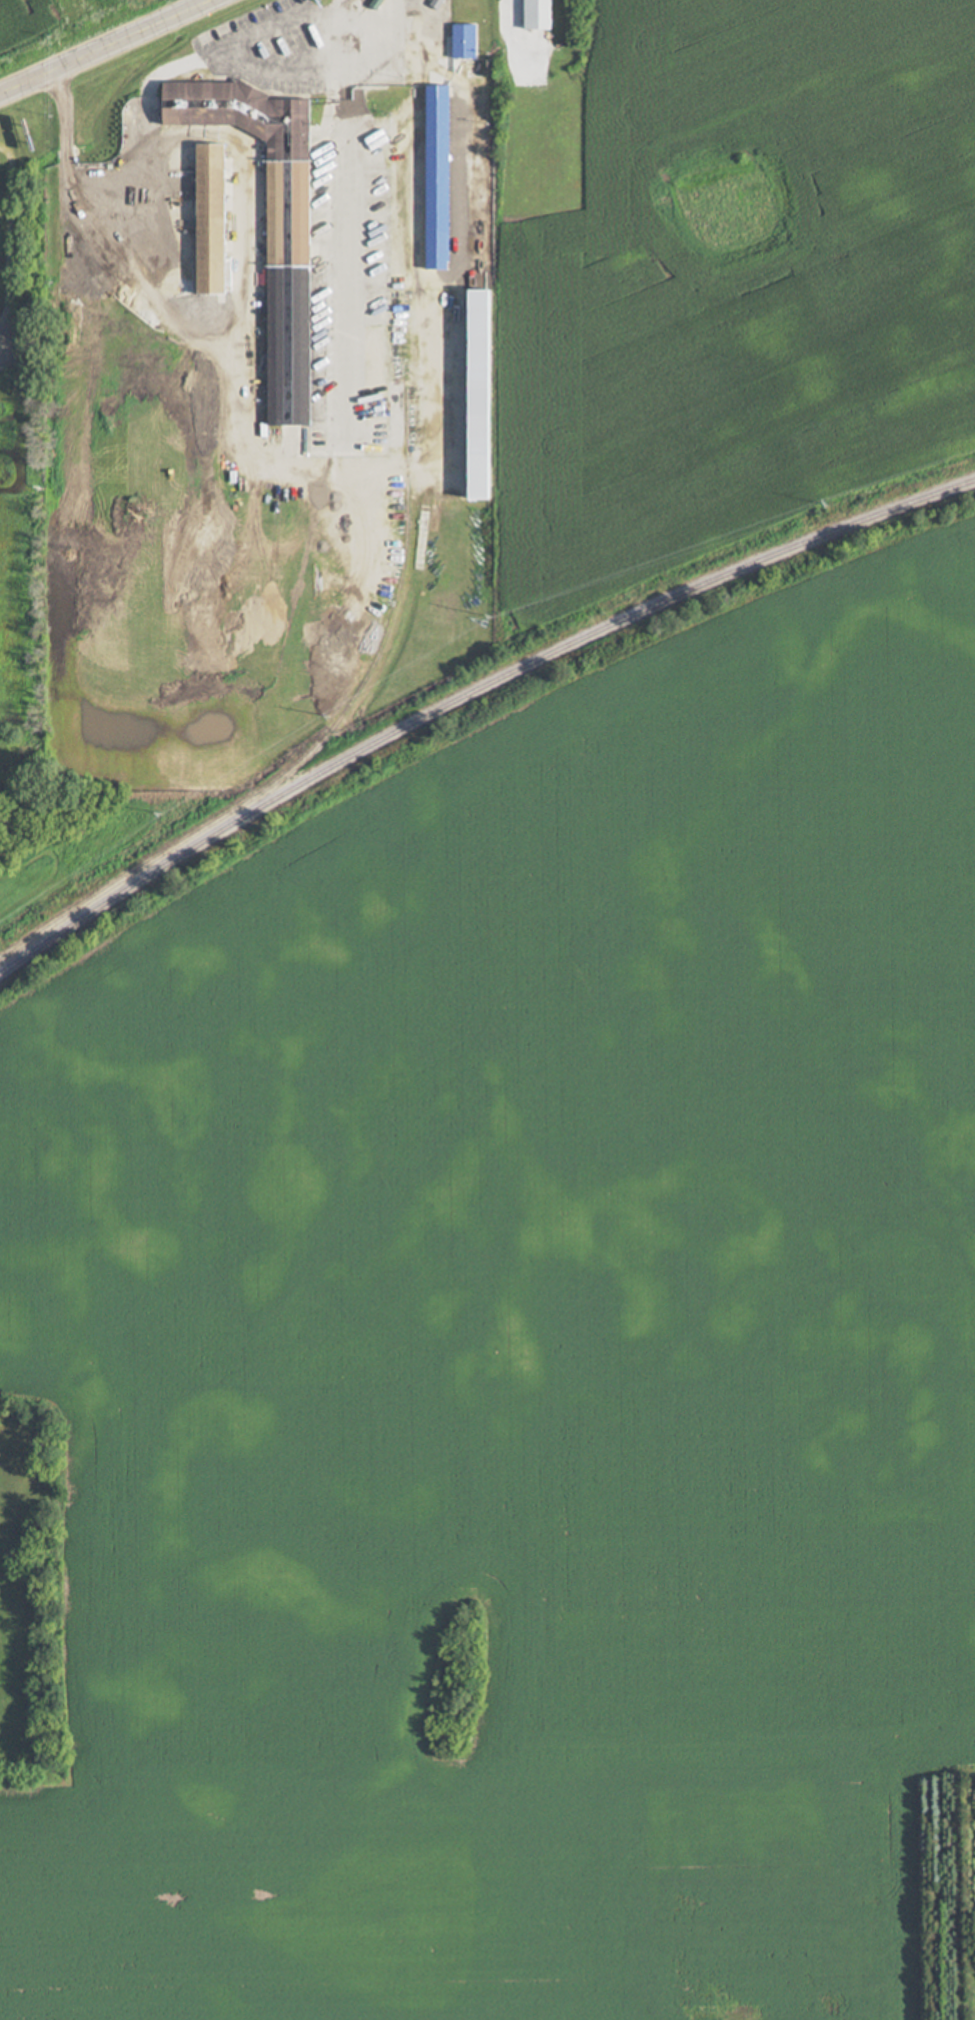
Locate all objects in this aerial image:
building: (542, 14)
building: (466, 41)
road: (118, 52)
road: (240, 68)
building: (441, 177)
building: (215, 219)
road: (5, 234)
building: (280, 238)
building: (487, 395)
road: (266, 465)
railway: (469, 689)
railway: (160, 852)

